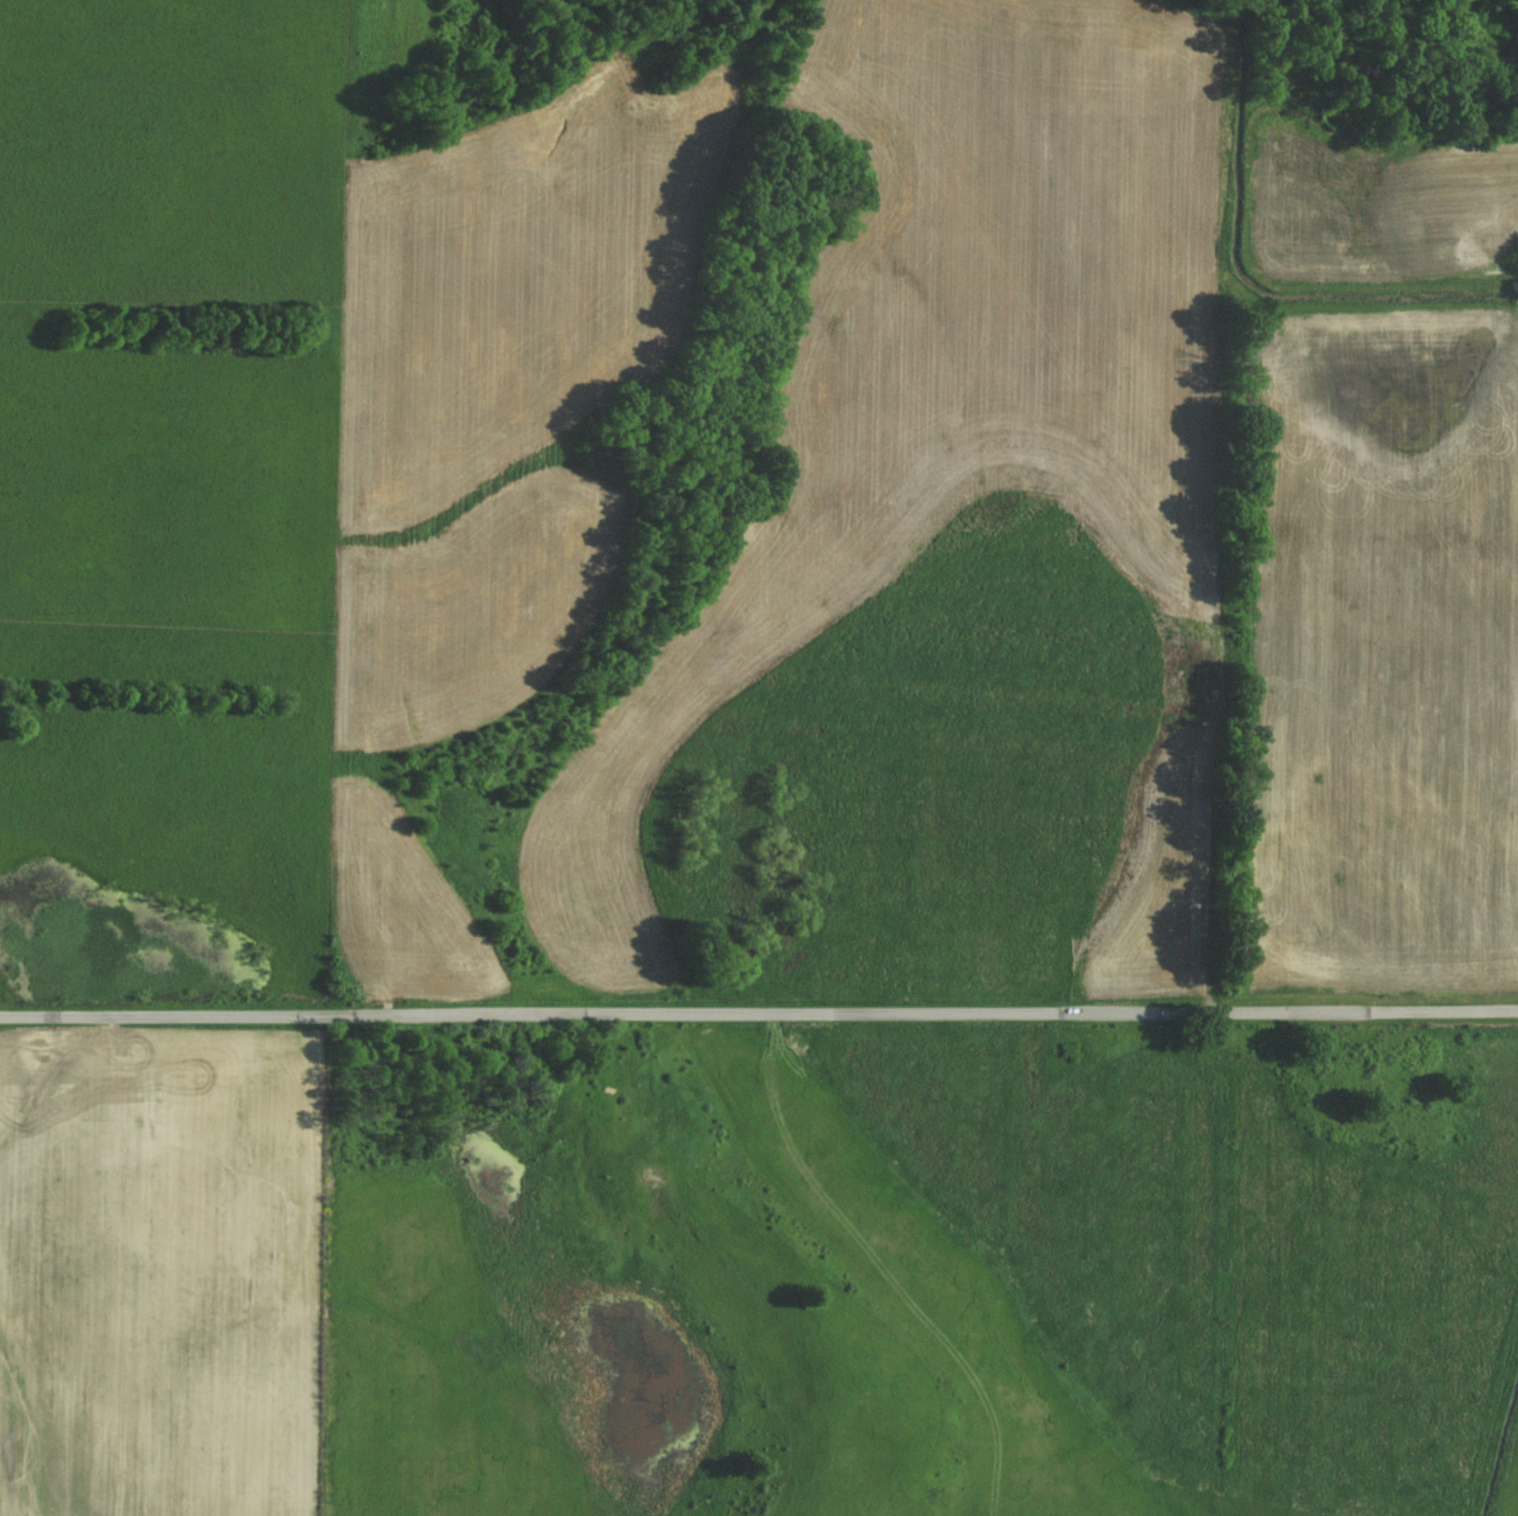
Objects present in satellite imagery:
road: (759, 1010)

